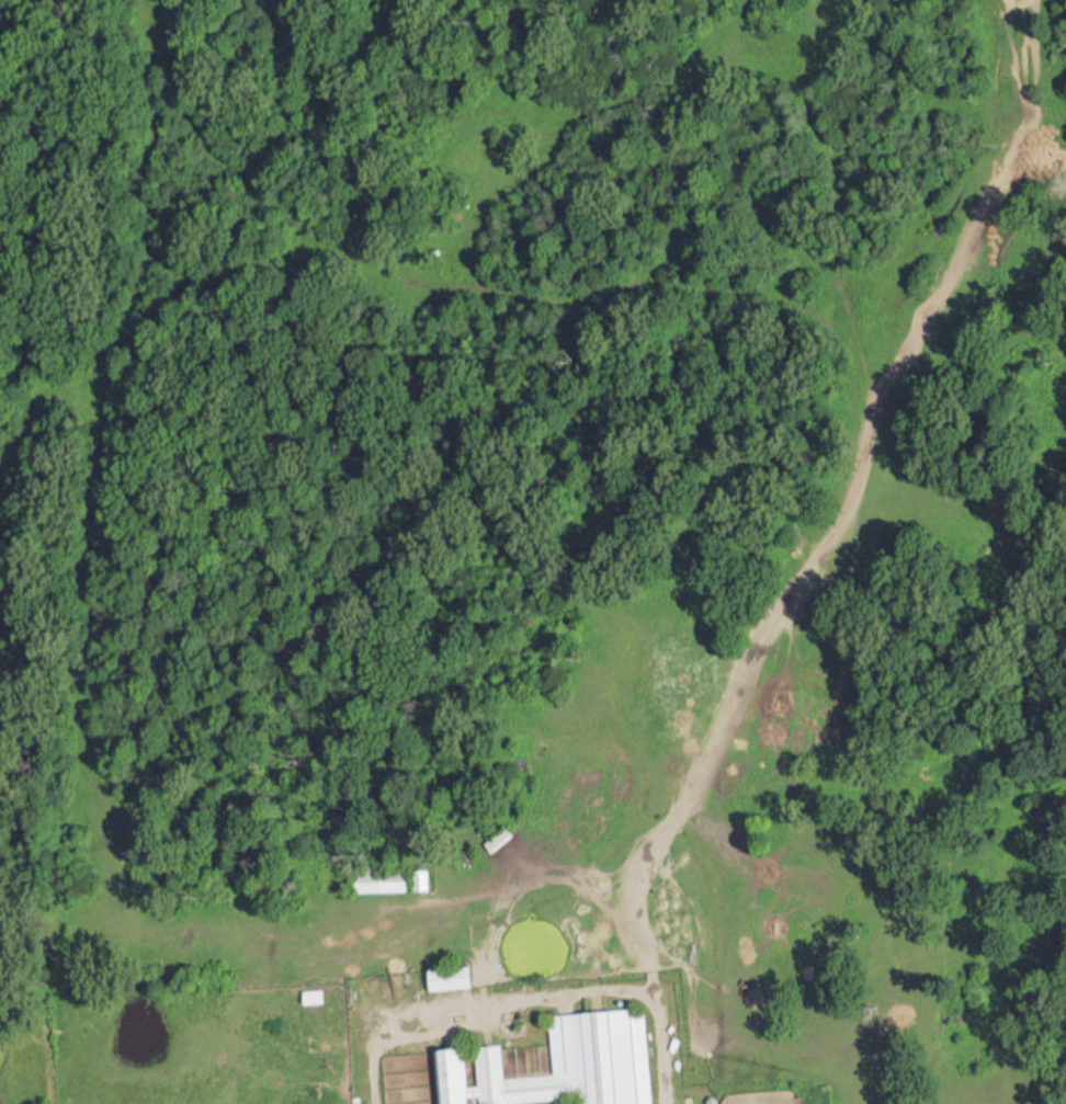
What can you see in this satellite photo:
building: (444, 970)
building: (308, 989)
building: (557, 1060)

